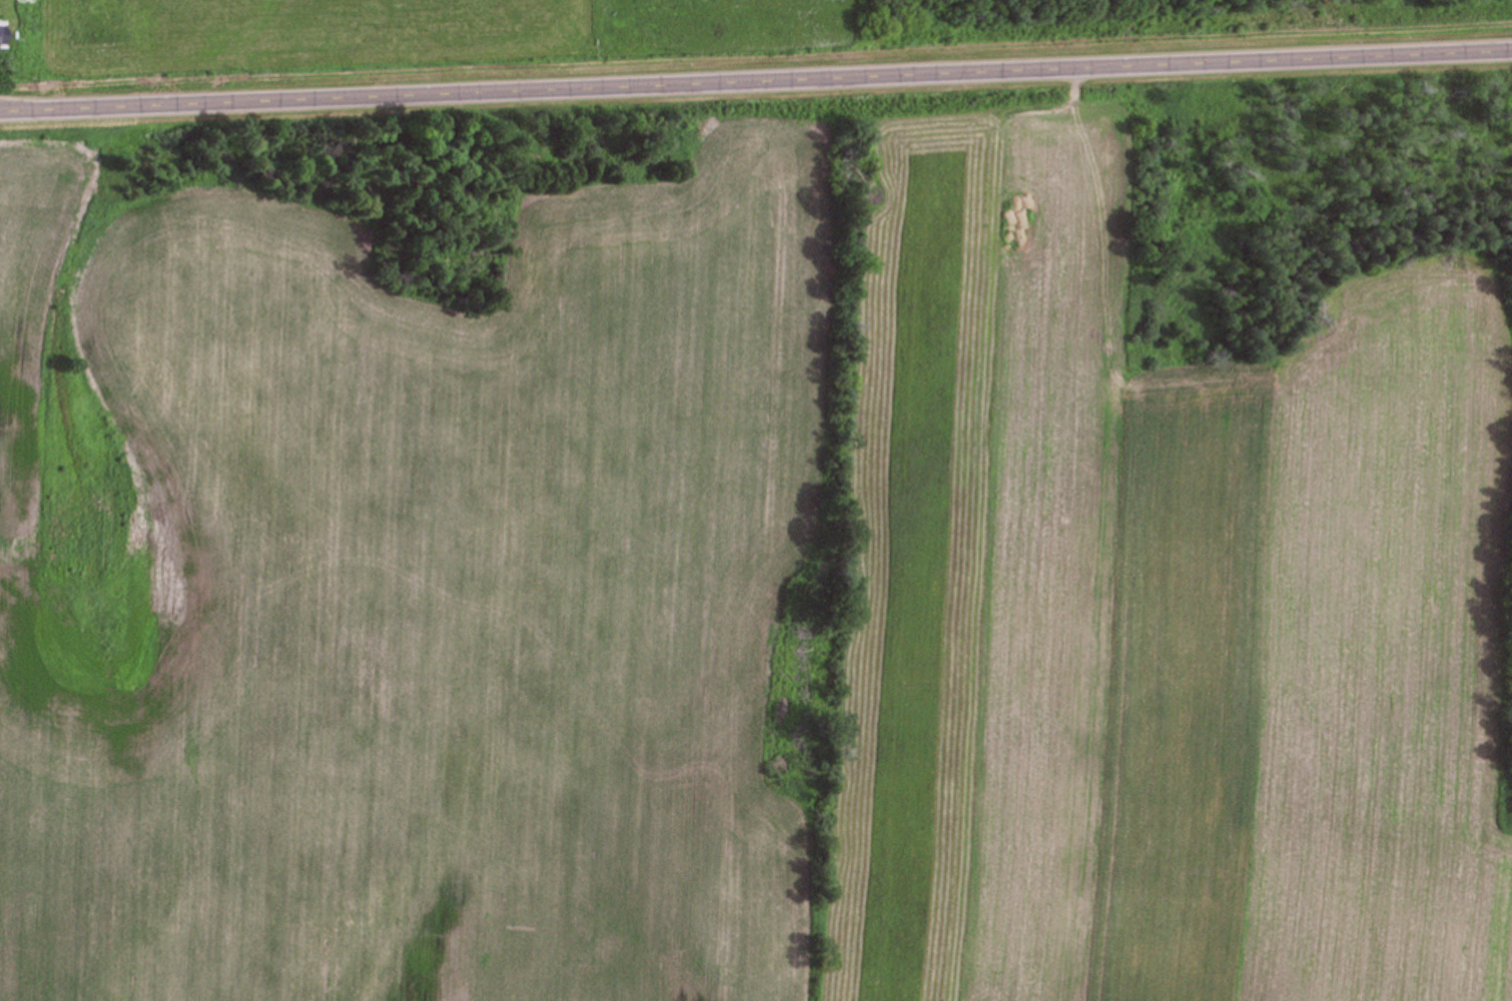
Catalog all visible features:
building: (1, 33)
road: (755, 76)

